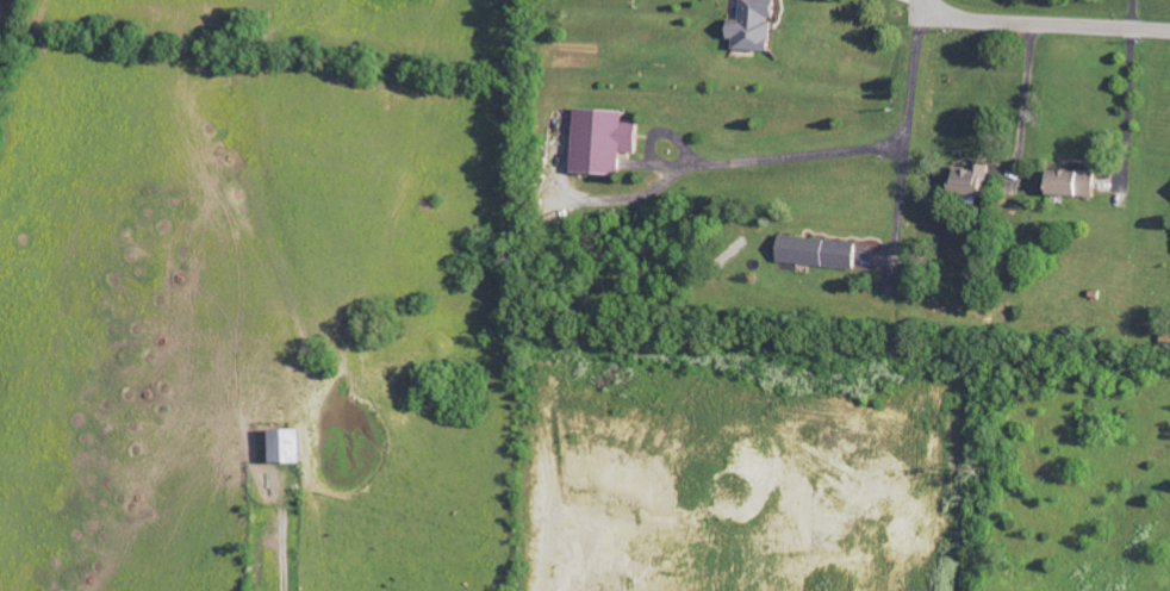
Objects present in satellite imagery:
road: (1032, 23)
building: (759, 25)
building: (606, 141)
road: (904, 145)
road: (734, 163)
building: (973, 180)
building: (1077, 182)
building: (820, 251)
building: (293, 447)

